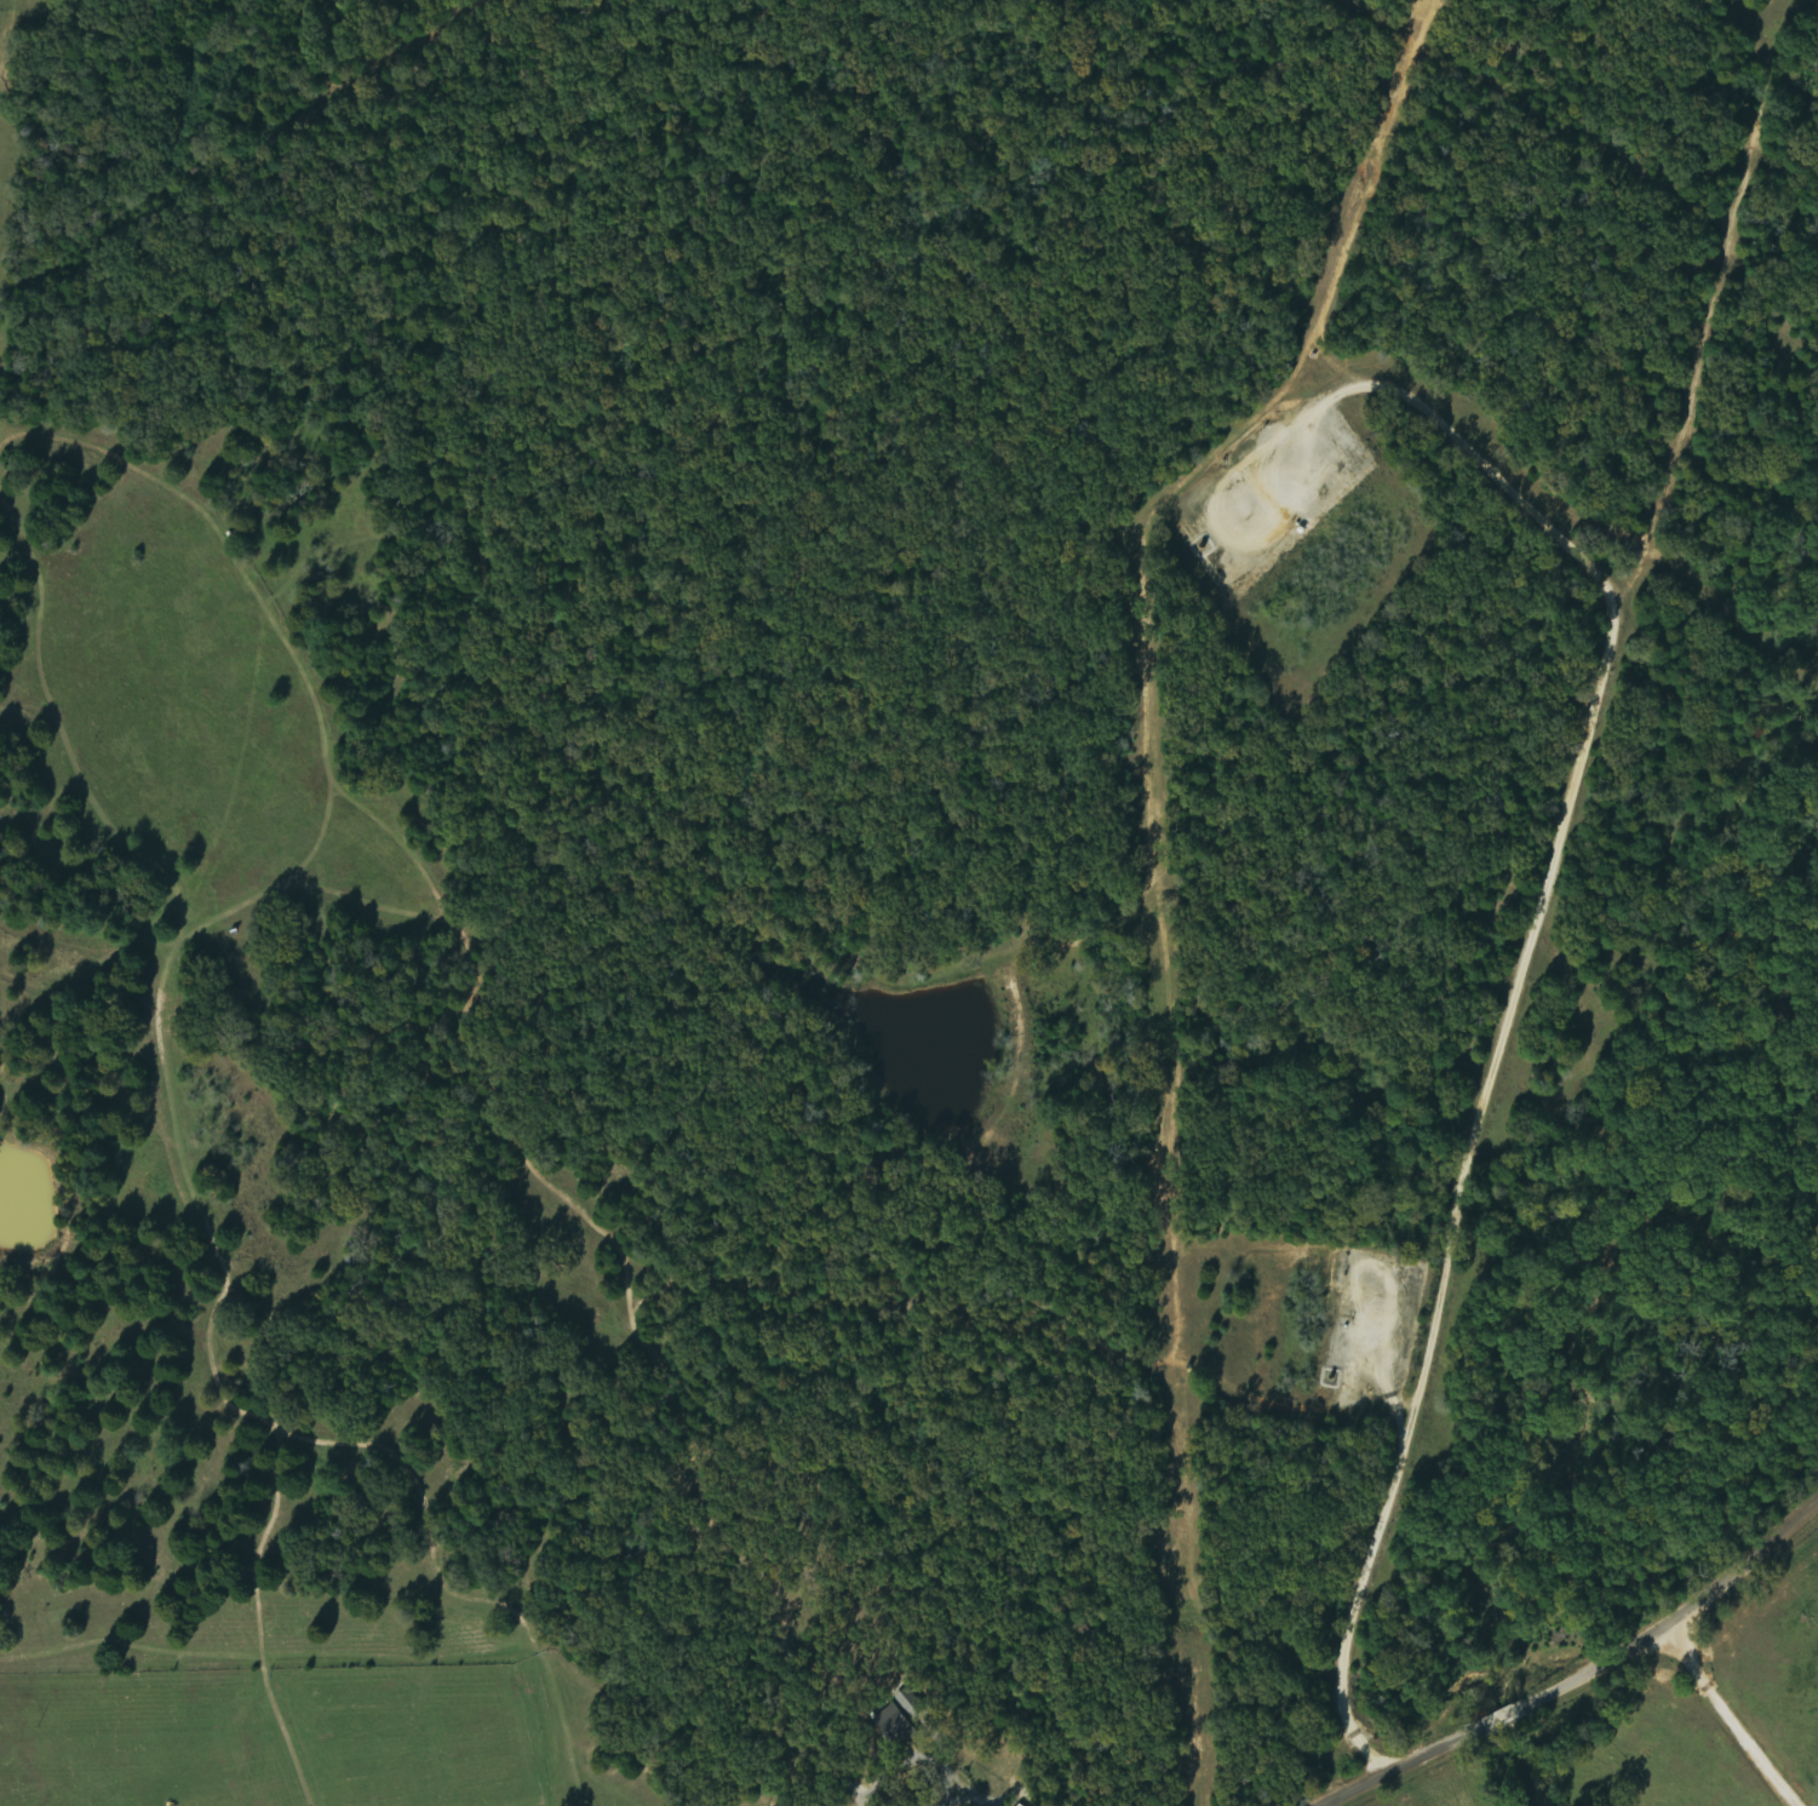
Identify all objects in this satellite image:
road: (1588, 1675)
building: (911, 1705)
road: (1715, 1720)
building: (896, 1726)

